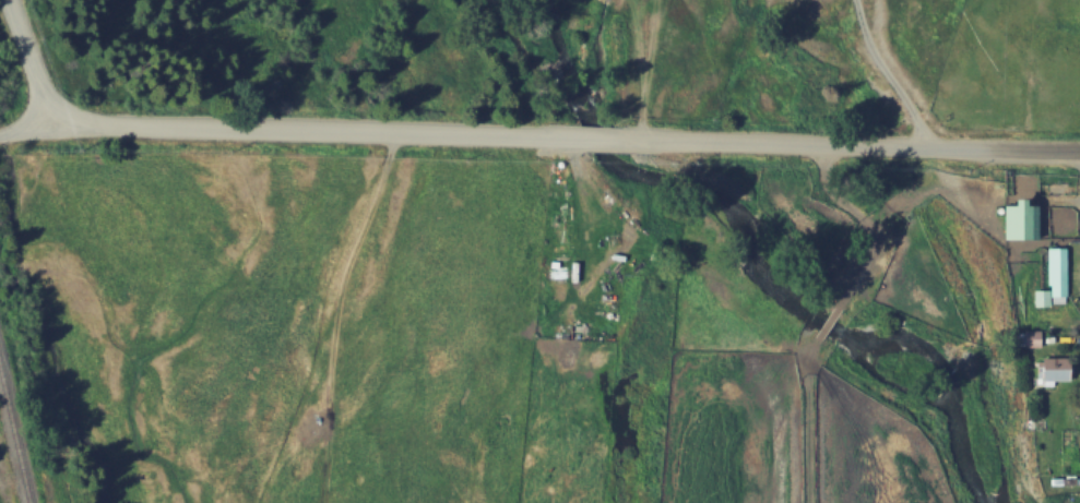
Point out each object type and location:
road: (28, 62)
road: (24, 128)
road: (306, 131)
road: (616, 139)
road: (875, 147)
building: (1017, 217)
crop: (862, 254)
river: (733, 262)
building: (1056, 273)
building: (1048, 369)
railway: (20, 414)
building: (34, 493)

